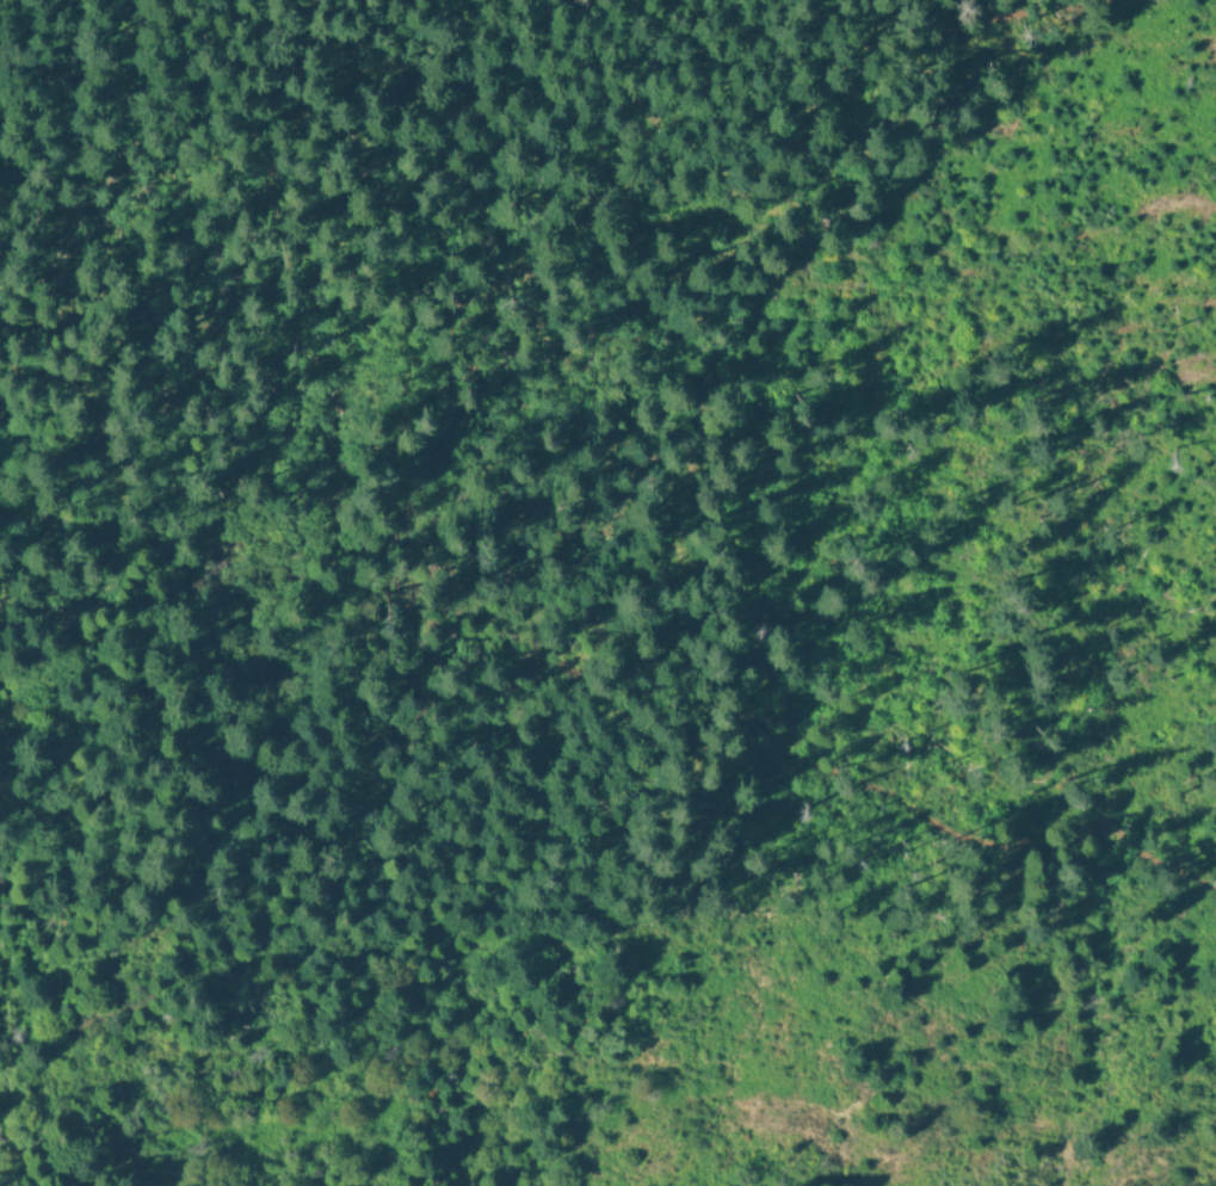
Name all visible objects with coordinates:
road: (530, 62)
road: (601, 709)

